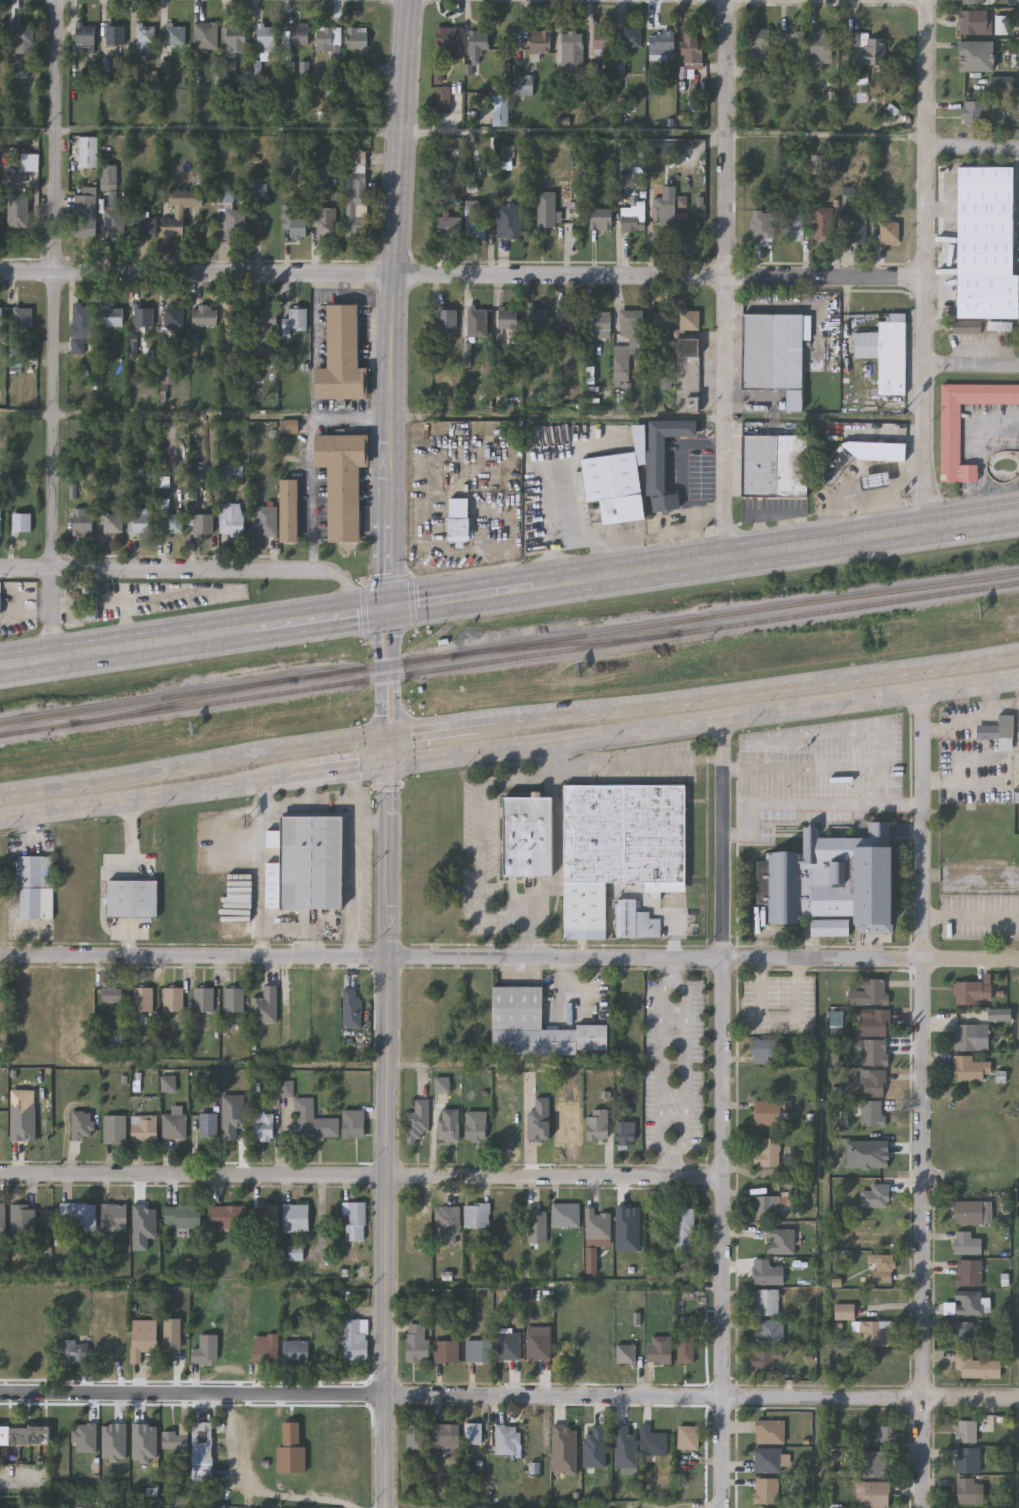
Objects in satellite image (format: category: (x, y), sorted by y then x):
building: (972, 2)
building: (975, 22)
building: (86, 34)
building: (114, 34)
building: (175, 34)
building: (298, 34)
building: (1, 35)
building: (205, 35)
building: (267, 37)
building: (631, 37)
building: (23, 38)
building: (144, 38)
building: (356, 38)
building: (235, 40)
building: (328, 40)
building: (603, 41)
building: (759, 43)
building: (791, 43)
building: (447, 44)
building: (538, 44)
building: (820, 44)
building: (661, 46)
building: (691, 47)
building: (476, 49)
building: (572, 51)
building: (866, 53)
building: (975, 56)
building: (523, 82)
building: (443, 99)
building: (499, 110)
building: (973, 113)
road: (392, 128)
road: (826, 134)
road: (972, 146)
building: (88, 152)
building: (354, 162)
building: (355, 206)
building: (178, 209)
building: (664, 209)
building: (19, 211)
building: (85, 215)
building: (541, 215)
building: (600, 218)
building: (632, 218)
building: (230, 221)
building: (294, 222)
building: (508, 222)
building: (326, 223)
building: (142, 224)
building: (794, 224)
building: (822, 224)
building: (475, 225)
building: (763, 226)
building: (447, 228)
building: (856, 231)
building: (889, 233)
building: (986, 241)
road: (925, 264)
road: (462, 279)
road: (728, 279)
road: (394, 304)
building: (112, 316)
building: (143, 316)
building: (204, 316)
building: (508, 316)
building: (1, 317)
building: (22, 317)
building: (447, 317)
building: (538, 317)
building: (173, 318)
building: (264, 318)
building: (690, 318)
building: (297, 319)
building: (567, 319)
building: (598, 319)
building: (82, 321)
building: (235, 321)
building: (477, 321)
building: (632, 328)
road: (55, 329)
building: (76, 347)
building: (886, 351)
building: (342, 355)
building: (771, 361)
building: (14, 363)
road: (971, 366)
building: (688, 374)
building: (167, 375)
road: (185, 414)
building: (951, 432)
building: (876, 449)
road: (983, 452)
road: (313, 456)
building: (663, 458)
building: (773, 464)
building: (836, 464)
building: (230, 473)
building: (873, 478)
building: (616, 480)
building: (343, 481)
road: (686, 483)
building: (135, 488)
building: (700, 502)
road: (707, 508)
building: (290, 509)
building: (231, 518)
building: (457, 518)
building: (1, 520)
building: (140, 521)
building: (264, 521)
building: (81, 522)
building: (20, 523)
building: (112, 523)
building: (172, 525)
building: (202, 525)
road: (777, 550)
road: (27, 568)
road: (184, 570)
road: (351, 586)
building: (0, 598)
road: (461, 598)
building: (83, 607)
traffic signals: (387, 609)
road: (368, 612)
road: (302, 623)
railway: (570, 642)
railway: (509, 644)
road: (127, 649)
railway: (509, 659)
road: (379, 674)
road: (397, 674)
road: (761, 691)
railway: (186, 700)
road: (703, 722)
building: (997, 727)
road: (445, 731)
traffic signals: (388, 740)
road: (387, 752)
road: (193, 762)
road: (639, 763)
traffic signals: (387, 764)
road: (348, 769)
building: (1016, 794)
road: (155, 795)
road: (806, 804)
road: (289, 808)
road: (372, 820)
building: (528, 836)
road: (723, 839)
road: (480, 844)
building: (619, 846)
road: (357, 863)
building: (307, 864)
building: (832, 881)
road: (261, 883)
building: (34, 890)
building: (132, 898)
road: (971, 914)
building: (634, 920)
road: (300, 932)
road: (360, 958)
road: (870, 958)
road: (675, 969)
building: (878, 991)
building: (972, 991)
building: (112, 993)
building: (143, 999)
building: (173, 999)
building: (203, 999)
building: (234, 999)
building: (323, 1000)
building: (353, 1000)
building: (265, 1005)
building: (878, 1022)
building: (538, 1026)
building: (970, 1036)
building: (767, 1050)
building: (877, 1052)
building: (969, 1068)
building: (167, 1082)
building: (877, 1083)
road: (922, 1099)
building: (764, 1111)
building: (876, 1113)
building: (312, 1121)
building: (419, 1121)
building: (262, 1123)
building: (354, 1123)
building: (600, 1123)
building: (208, 1124)
building: (451, 1124)
building: (82, 1125)
building: (174, 1125)
building: (478, 1125)
building: (144, 1127)
building: (115, 1128)
building: (628, 1131)
road: (389, 1135)
road: (673, 1151)
building: (767, 1152)
road: (673, 1165)
road: (361, 1177)
building: (766, 1203)
building: (882, 1203)
building: (570, 1211)
building: (967, 1211)
building: (80, 1214)
building: (477, 1215)
building: (114, 1216)
building: (183, 1216)
building: (228, 1216)
building: (265, 1216)
building: (296, 1217)
building: (2, 1218)
building: (23, 1219)
building: (354, 1220)
building: (448, 1223)
building: (599, 1223)
building: (539, 1226)
building: (682, 1228)
road: (723, 1232)
building: (780, 1240)
building: (965, 1242)
building: (880, 1261)
building: (766, 1272)
building: (968, 1272)
building: (766, 1300)
building: (968, 1301)
building: (843, 1310)
park: (29, 1331)
building: (770, 1332)
building: (876, 1332)
building: (172, 1334)
building: (142, 1337)
building: (355, 1338)
building: (964, 1340)
building: (541, 1341)
building: (419, 1343)
building: (510, 1345)
building: (684, 1346)
building: (657, 1347)
building: (265, 1348)
building: (102, 1349)
building: (205, 1349)
building: (480, 1349)
building: (74, 1350)
building: (448, 1350)
building: (294, 1351)
building: (624, 1351)
building: (763, 1360)
road: (509, 1395)
building: (769, 1430)
building: (965, 1430)
building: (416, 1433)
building: (475, 1433)
building: (885, 1433)
building: (25, 1434)
building: (448, 1434)
building: (686, 1435)
building: (509, 1438)
building: (176, 1439)
building: (650, 1439)
building: (536, 1441)
building: (201, 1444)
building: (291, 1450)
building: (967, 1458)
building: (768, 1459)
building: (874, 1462)
road: (254, 1485)
building: (766, 1490)
building: (968, 1490)
building: (876, 1493)
building: (769, 1507)

